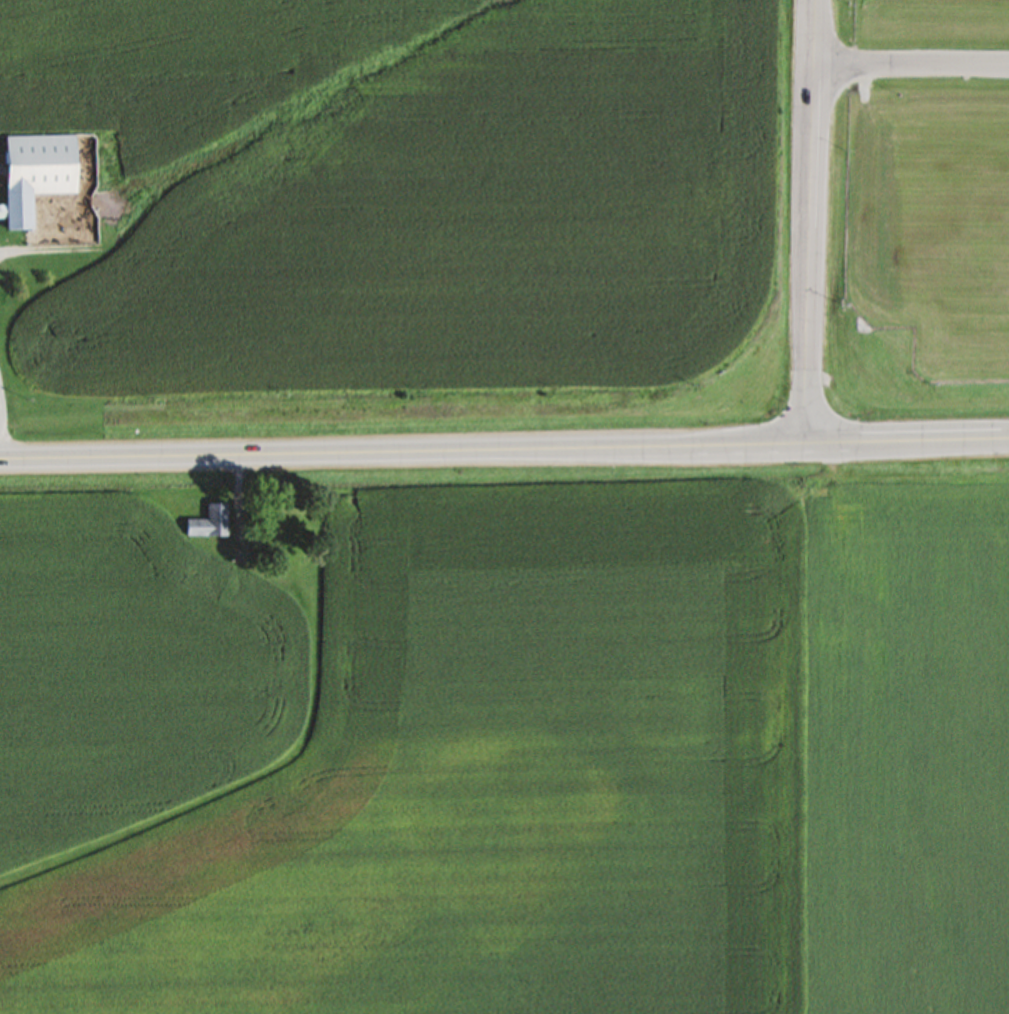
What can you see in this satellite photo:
road: (908, 69)
building: (33, 180)
road: (804, 222)
road: (504, 452)
building: (205, 528)

